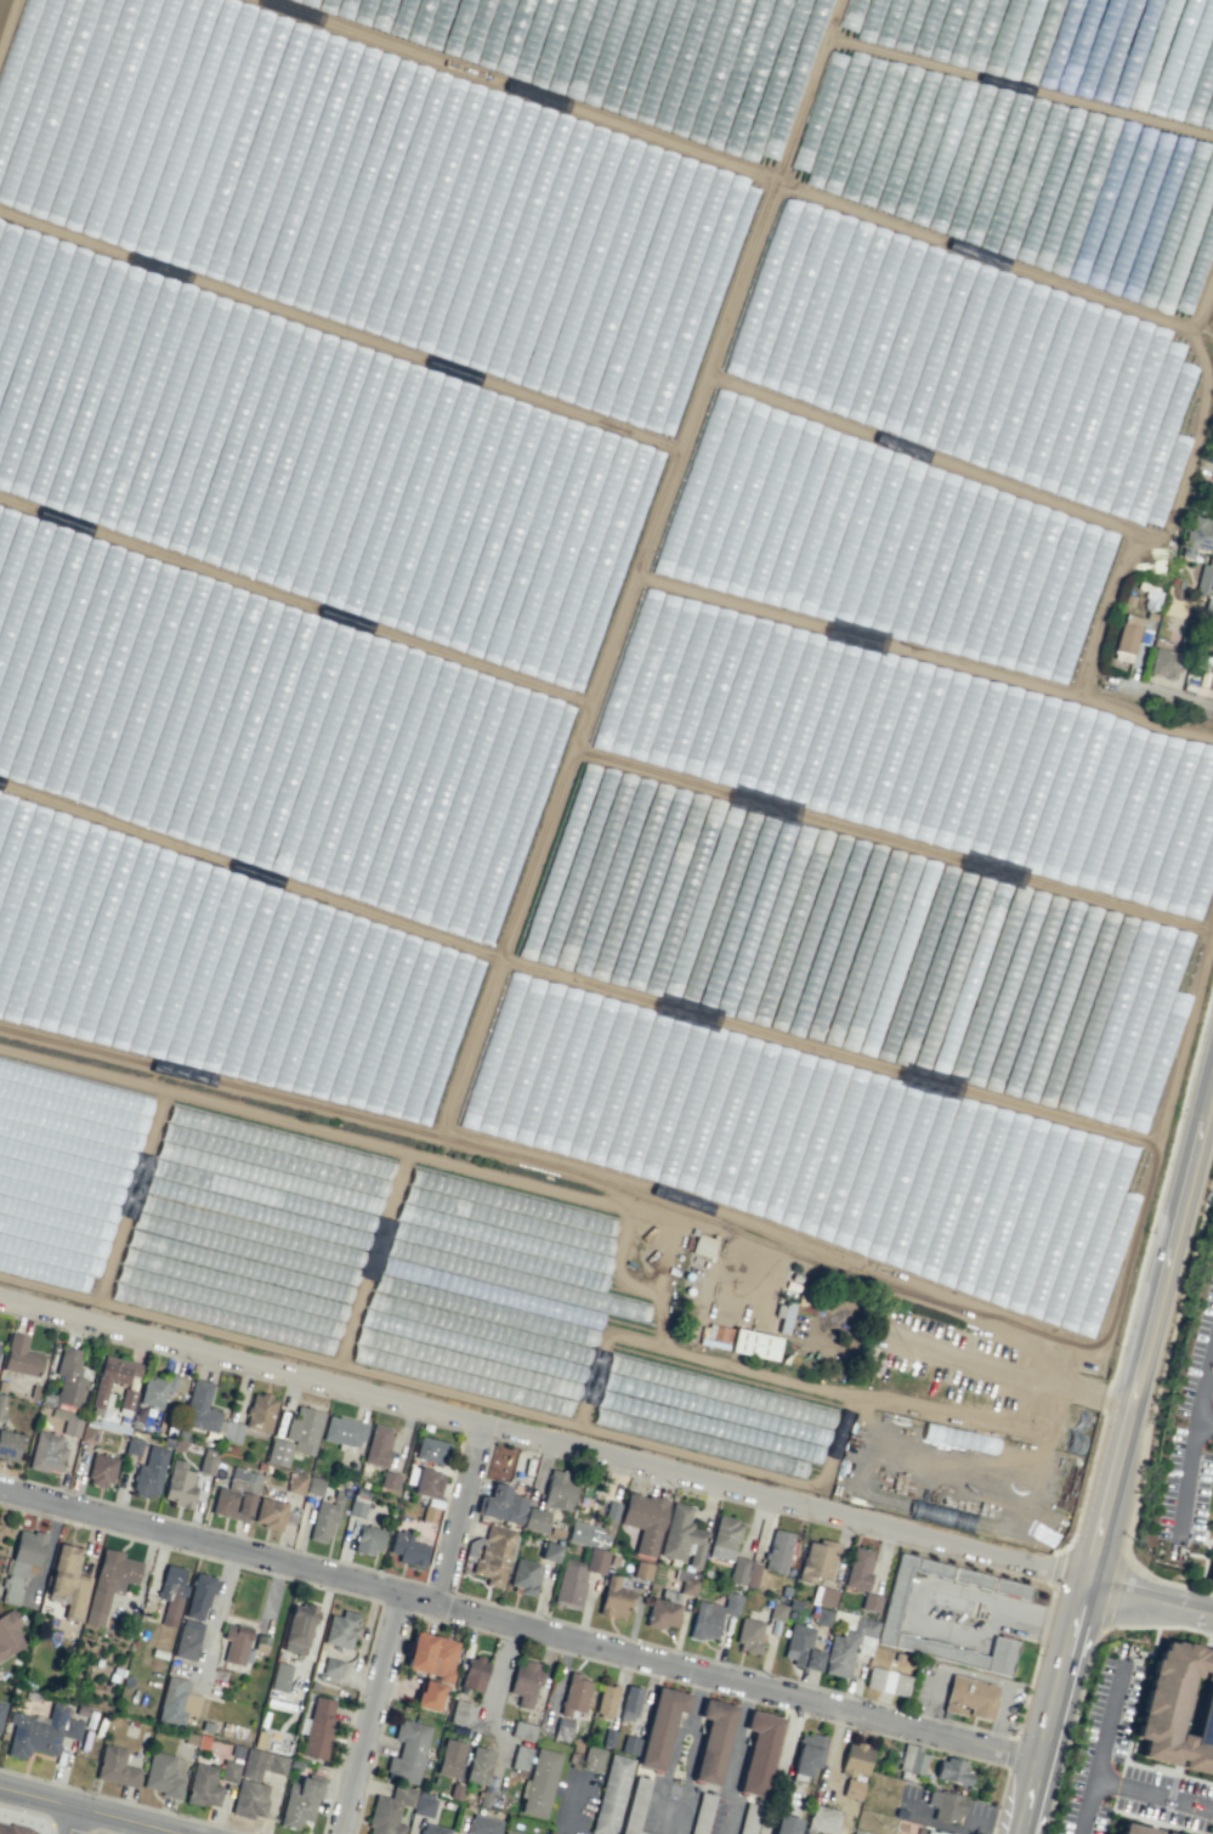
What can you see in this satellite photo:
building: (1064, 47)
building: (307, 459)
building: (1198, 536)
building: (1202, 579)
building: (1128, 634)
building: (1163, 663)
building: (1209, 679)
crop: (608, 698)
road: (1179, 698)
building: (256, 726)
building: (908, 753)
building: (209, 966)
building: (827, 1156)
building: (62, 1172)
building: (702, 1245)
building: (718, 1336)
building: (754, 1343)
building: (21, 1355)
building: (69, 1377)
building: (112, 1380)
building: (160, 1388)
building: (127, 1398)
road: (1203, 1402)
building: (200, 1408)
building: (260, 1413)
building: (72, 1426)
building: (342, 1431)
building: (232, 1432)
building: (295, 1436)
building: (8, 1444)
building: (132, 1445)
building: (378, 1445)
building: (430, 1450)
building: (46, 1451)
road: (1118, 1456)
road: (605, 1457)
building: (208, 1461)
building: (102, 1470)
building: (149, 1472)
building: (389, 1481)
building: (424, 1482)
building: (296, 1483)
road: (1188, 1483)
building: (178, 1484)
building: (314, 1485)
building: (560, 1490)
building: (236, 1495)
building: (501, 1504)
building: (356, 1508)
building: (270, 1513)
road: (465, 1518)
building: (324, 1519)
building: (534, 1519)
building: (644, 1521)
building: (594, 1528)
building: (682, 1536)
building: (724, 1538)
building: (368, 1539)
building: (407, 1549)
building: (777, 1551)
building: (549, 1552)
building: (491, 1553)
building: (816, 1560)
building: (22, 1562)
building: (858, 1568)
building: (641, 1570)
building: (737, 1570)
building: (753, 1574)
building: (525, 1577)
building: (577, 1577)
building: (1212, 1578)
building: (68, 1581)
building: (109, 1581)
building: (1010, 1589)
building: (171, 1594)
building: (199, 1596)
building: (823, 1596)
building: (613, 1598)
building: (871, 1602)
building: (664, 1609)
building: (776, 1611)
building: (891, 1614)
building: (712, 1617)
building: (297, 1629)
building: (340, 1629)
road: (520, 1629)
building: (8, 1634)
building: (749, 1635)
building: (187, 1640)
building: (236, 1642)
building: (846, 1646)
building: (800, 1647)
building: (963, 1652)
building: (431, 1655)
building: (330, 1668)
building: (474, 1674)
building: (279, 1676)
building: (525, 1681)
building: (886, 1681)
building: (429, 1694)
building: (573, 1694)
building: (970, 1697)
building: (176, 1702)
building: (606, 1702)
building: (629, 1703)
building: (1179, 1708)
building: (1, 1710)
road: (380, 1716)
building: (317, 1727)
building: (661, 1727)
building: (523, 1730)
building: (40, 1731)
building: (713, 1740)
building: (629, 1745)
building: (407, 1751)
building: (759, 1753)
building: (807, 1754)
building: (450, 1757)
building: (520, 1757)
building: (593, 1757)
building: (856, 1759)
building: (913, 1760)
building: (261, 1764)
building: (478, 1765)
building: (115, 1767)
building: (228, 1771)
building: (952, 1771)
building: (164, 1773)
road: (1098, 1779)
building: (540, 1782)
building: (203, 1785)
building: (851, 1789)
building: (612, 1794)
building: (639, 1794)
building: (250, 1799)
building: (299, 1801)
building: (946, 1805)
building: (424, 1806)
road: (1084, 1806)
building: (389, 1811)
road: (80, 1813)
building: (702, 1813)
building: (822, 1819)
road: (79, 1824)
building: (482, 1824)
building: (786, 1824)
building: (15, 1829)
building: (432, 1829)
building: (1137, 1829)
building: (511, 1832)
building: (933, 1832)
building: (641, 1833)

